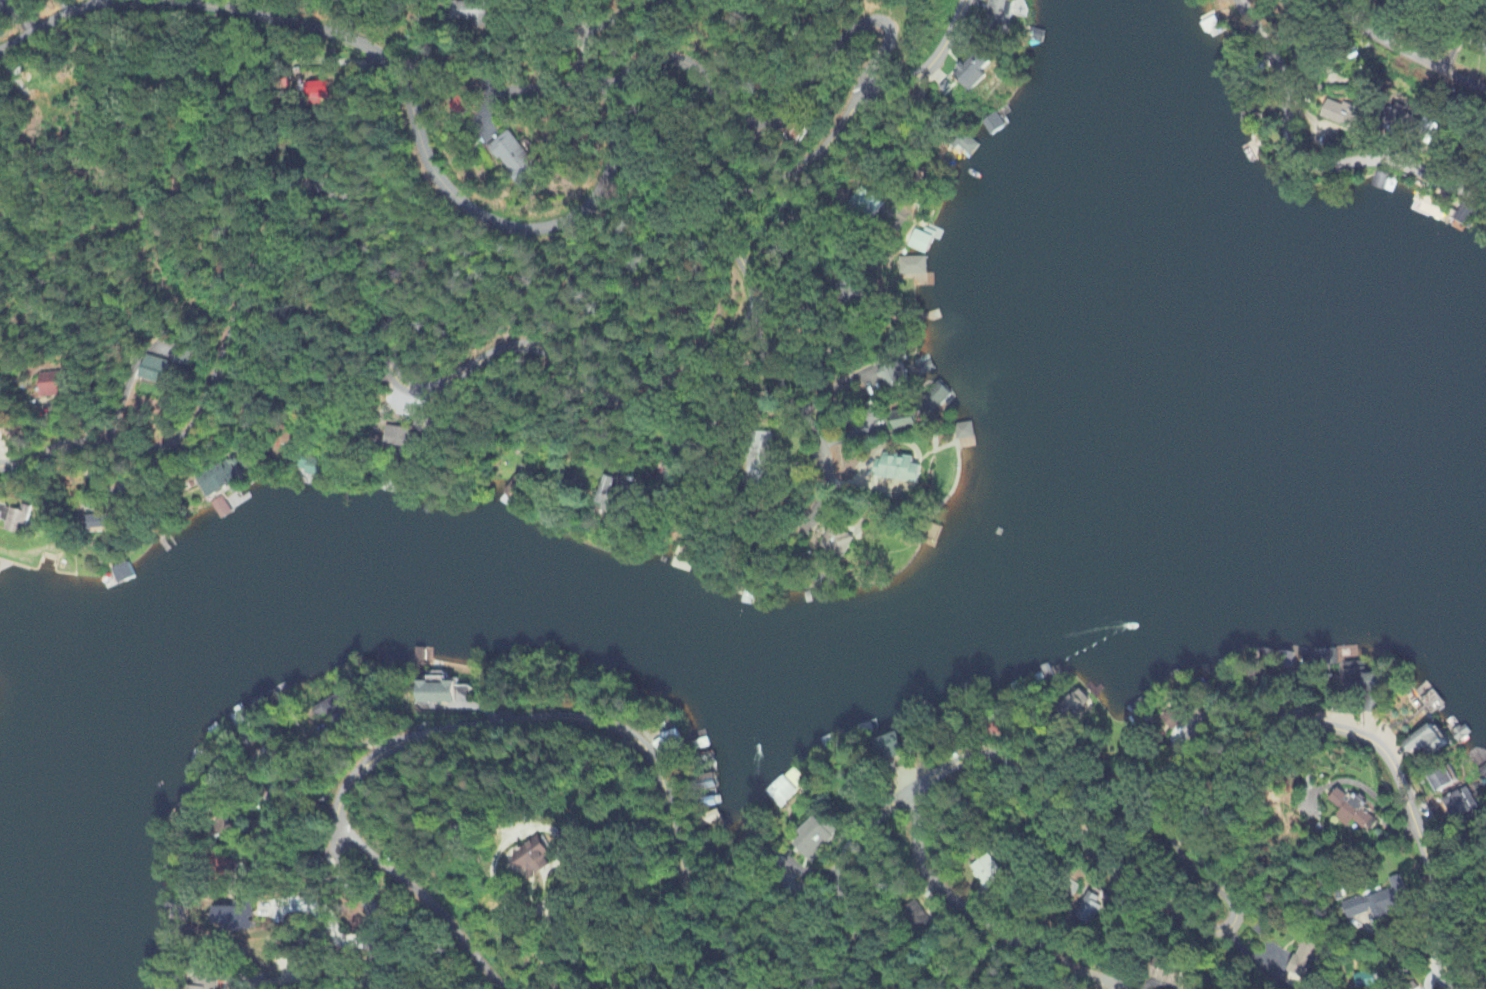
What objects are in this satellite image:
road: (161, 0)
building: (1278, 0)
building: (1420, 1)
building: (999, 12)
building: (470, 15)
road: (620, 16)
road: (56, 21)
road: (588, 47)
building: (1484, 48)
road: (1405, 53)
building: (976, 71)
road: (549, 86)
building: (323, 87)
building: (864, 93)
building: (1340, 117)
building: (1387, 118)
building: (797, 133)
building: (961, 147)
building: (519, 159)
road: (1310, 163)
road: (595, 203)
building: (905, 267)
building: (850, 289)
road: (250, 350)
road: (810, 354)
building: (183, 358)
building: (154, 371)
road: (464, 375)
building: (889, 376)
building: (56, 386)
road: (841, 387)
road: (123, 401)
road: (515, 407)
building: (902, 420)
building: (431, 422)
building: (678, 428)
road: (817, 431)
road: (849, 437)
building: (401, 438)
road: (882, 444)
road: (4, 453)
building: (762, 459)
road: (685, 461)
road: (805, 465)
building: (302, 467)
building: (895, 468)
road: (912, 474)
road: (717, 475)
building: (214, 482)
road: (871, 489)
building: (510, 493)
building: (613, 497)
road: (829, 520)
building: (13, 521)
building: (98, 524)
building: (836, 542)
building: (1373, 684)
building: (435, 694)
building: (332, 709)
building: (1173, 717)
road: (521, 721)
building: (1456, 734)
building: (1429, 743)
building: (894, 748)
road: (326, 759)
building: (1443, 781)
building: (860, 784)
road: (1078, 789)
building: (776, 793)
building: (1457, 805)
building: (1354, 811)
road: (528, 829)
building: (812, 838)
building: (536, 860)
building: (991, 873)
road: (278, 880)
road: (430, 900)
building: (1383, 902)
road: (1463, 904)
building: (1088, 908)
road: (1236, 908)
road: (323, 915)
building: (914, 917)
building: (236, 919)
road: (981, 920)
road: (1398, 951)
building: (1299, 959)
road: (1430, 971)
road: (550, 976)
building: (203, 981)

